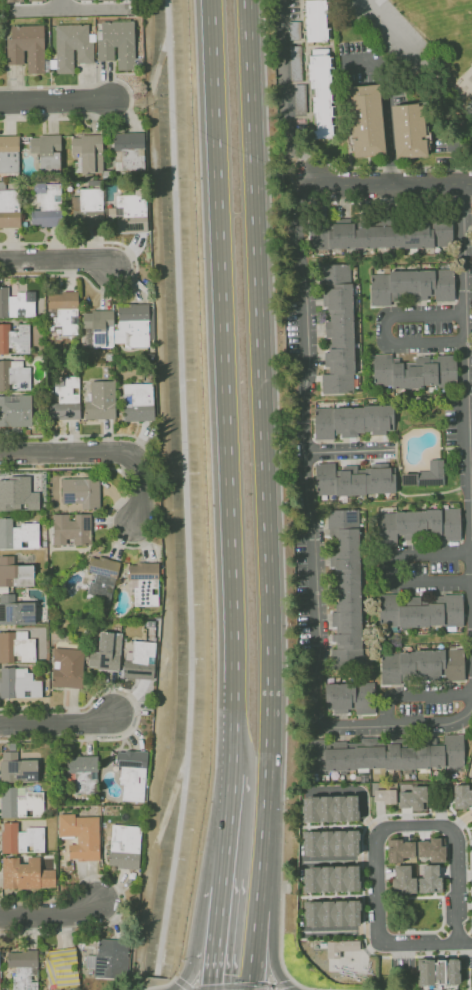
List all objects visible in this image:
building: (13, 0)
building: (32, 0)
building: (103, 0)
road: (62, 4)
road: (93, 7)
road: (36, 9)
building: (314, 20)
road: (391, 25)
building: (116, 43)
building: (71, 46)
building: (26, 47)
road: (283, 92)
building: (320, 92)
road: (131, 98)
road: (55, 99)
road: (385, 105)
building: (365, 119)
building: (408, 130)
building: (45, 150)
building: (127, 150)
building: (87, 151)
building: (8, 154)
road: (386, 183)
road: (401, 201)
building: (46, 206)
building: (90, 206)
building: (9, 207)
building: (130, 211)
building: (378, 235)
road: (55, 261)
road: (134, 272)
building: (410, 284)
building: (14, 304)
building: (63, 310)
building: (131, 324)
road: (383, 328)
building: (14, 339)
road: (469, 340)
building: (412, 371)
building: (13, 375)
road: (224, 386)
building: (64, 398)
building: (100, 400)
building: (137, 401)
building: (15, 410)
building: (350, 420)
road: (73, 434)
road: (99, 451)
road: (348, 451)
road: (117, 469)
building: (424, 474)
building: (351, 479)
building: (79, 491)
building: (17, 494)
road: (267, 495)
building: (418, 525)
road: (315, 526)
building: (70, 529)
building: (17, 534)
road: (390, 568)
building: (14, 572)
building: (101, 576)
building: (143, 583)
building: (347, 595)
building: (15, 610)
building: (421, 610)
building: (16, 646)
building: (105, 651)
building: (139, 660)
building: (424, 665)
building: (66, 667)
building: (18, 682)
road: (419, 695)
building: (349, 698)
road: (136, 708)
road: (57, 723)
building: (384, 753)
building: (18, 768)
building: (133, 770)
building: (86, 773)
road: (354, 790)
road: (229, 793)
building: (384, 795)
building: (462, 796)
building: (413, 798)
building: (21, 804)
building: (329, 808)
road: (379, 814)
road: (406, 817)
road: (461, 819)
road: (333, 825)
road: (377, 828)
road: (406, 832)
road: (422, 832)
building: (81, 835)
building: (22, 838)
building: (330, 843)
building: (125, 846)
road: (224, 849)
building: (399, 849)
building: (430, 849)
road: (339, 860)
road: (447, 869)
road: (384, 872)
building: (26, 874)
road: (463, 874)
building: (331, 878)
road: (361, 878)
building: (429, 878)
building: (402, 879)
road: (470, 886)
road: (122, 895)
road: (330, 895)
road: (414, 896)
road: (442, 912)
building: (331, 913)
road: (49, 915)
road: (217, 917)
road: (340, 930)
road: (403, 931)
road: (280, 932)
road: (457, 934)
road: (463, 942)
road: (467, 944)
road: (372, 946)
building: (339, 947)
road: (427, 950)
road: (439, 950)
road: (452, 950)
road: (272, 951)
road: (469, 954)
building: (112, 959)
building: (62, 967)
road: (191, 968)
building: (24, 969)
road: (212, 969)
road: (467, 972)
building: (452, 973)
building: (425, 974)
building: (439, 974)
road: (179, 981)
road: (167, 982)
road: (285, 982)
road: (271, 984)
road: (230, 985)
road: (152, 986)
road: (187, 987)
road: (272, 987)
road: (192, 988)
road: (138, 989)
road: (314, 989)

